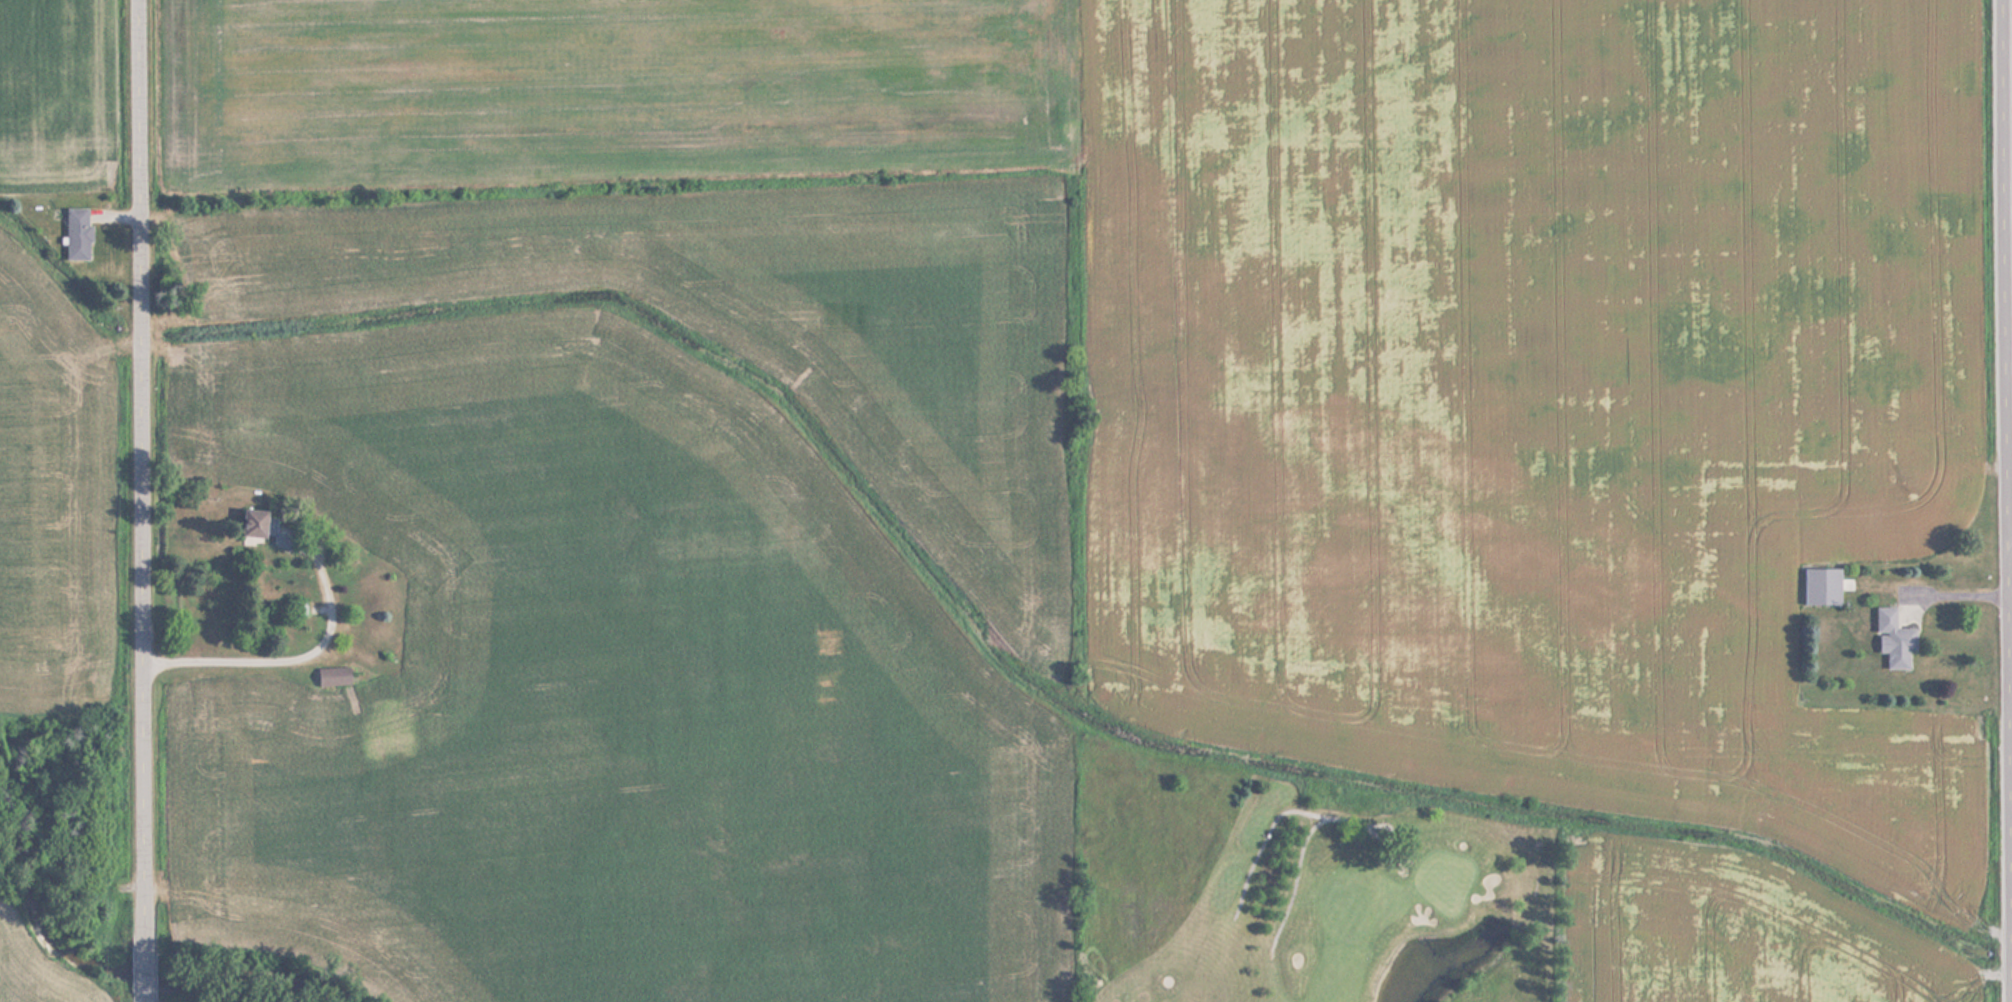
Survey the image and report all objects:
building: (78, 234)
road: (2008, 314)
road: (146, 500)
building: (266, 529)
building: (1821, 586)
building: (1892, 638)
building: (333, 676)
park: (1306, 888)

